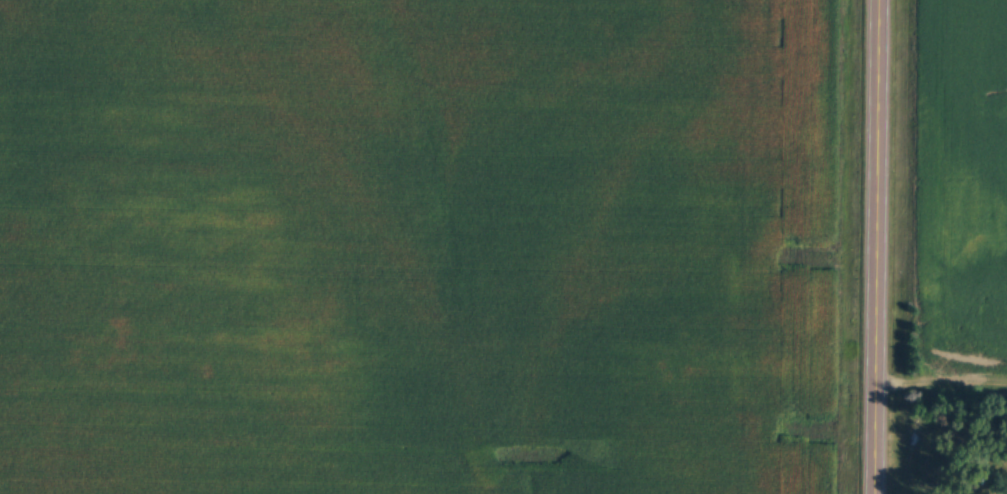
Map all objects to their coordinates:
road: (876, 247)

